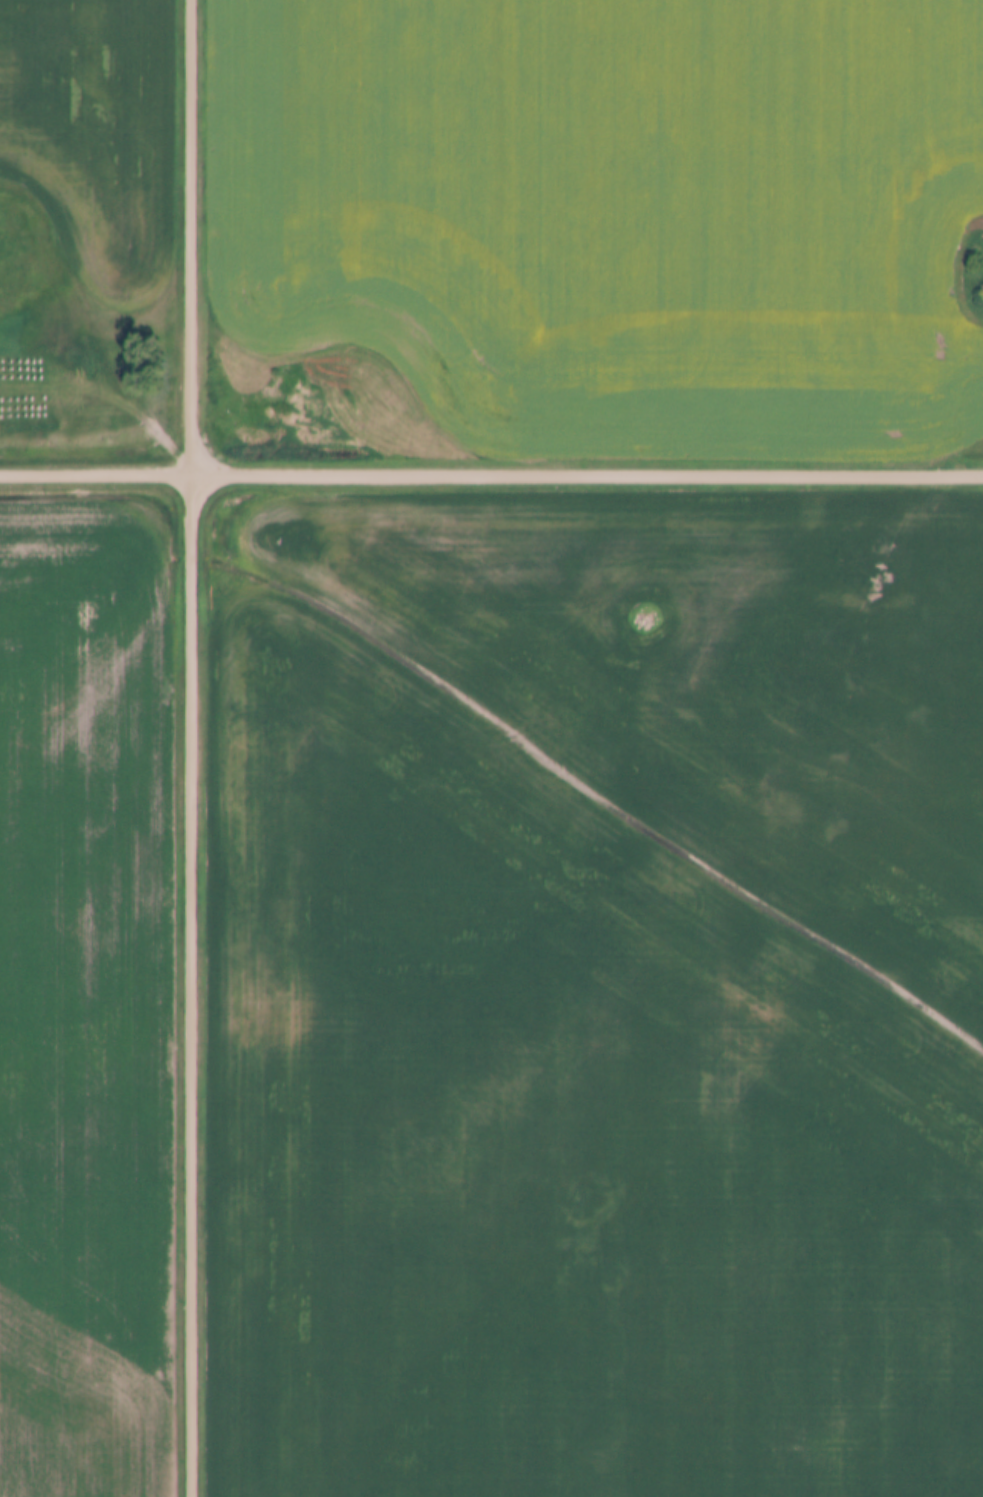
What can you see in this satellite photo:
road: (98, 473)
road: (589, 473)
road: (195, 748)

